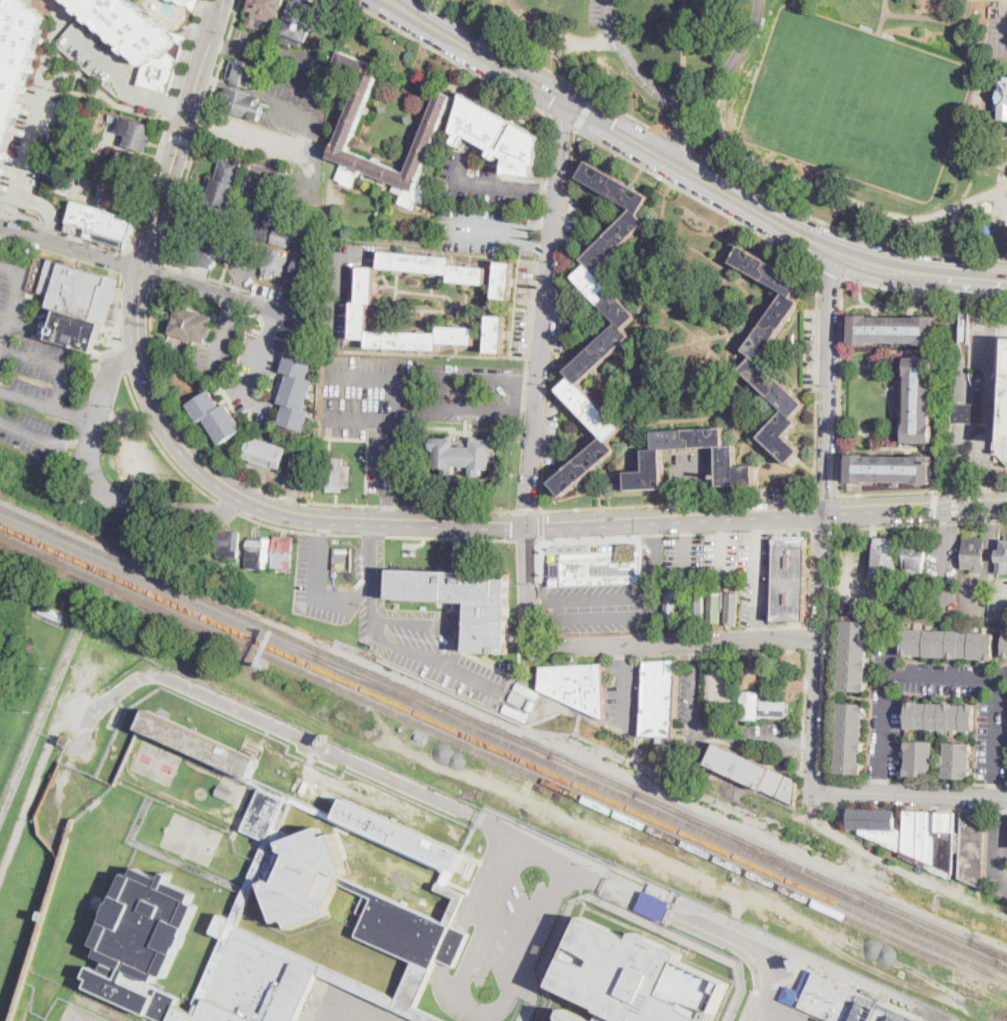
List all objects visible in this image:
road: (390, 0)
road: (391, 0)
building: (190, 3)
building: (264, 12)
building: (300, 22)
road: (56, 27)
building: (138, 38)
road: (684, 44)
parking lot: (99, 54)
road: (65, 59)
road: (454, 60)
building: (17, 62)
road: (538, 64)
building: (245, 73)
road: (77, 81)
road: (125, 82)
road: (57, 83)
road: (82, 92)
traffic signals: (555, 95)
road: (683, 99)
building: (1002, 100)
park: (856, 103)
building: (243, 104)
road: (131, 109)
road: (586, 111)
road: (661, 111)
building: (351, 121)
road: (566, 122)
road: (166, 124)
road: (610, 126)
traffic signals: (612, 127)
road: (657, 128)
road: (249, 129)
road: (199, 131)
road: (680, 133)
building: (136, 134)
road: (181, 134)
road: (704, 134)
building: (499, 136)
road: (179, 138)
road: (680, 141)
parking lot: (30, 144)
building: (89, 147)
road: (994, 148)
road: (574, 156)
building: (129, 164)
road: (21, 176)
building: (225, 184)
road: (476, 184)
road: (546, 191)
building: (116, 195)
road: (697, 197)
building: (447, 209)
road: (9, 215)
building: (299, 215)
building: (102, 224)
road: (544, 225)
road: (453, 227)
road: (842, 228)
building: (257, 232)
building: (284, 237)
road: (541, 244)
building: (211, 247)
road: (125, 261)
building: (427, 263)
building: (276, 264)
building: (304, 268)
road: (831, 268)
road: (917, 269)
road: (156, 272)
road: (161, 275)
building: (497, 277)
road: (240, 286)
road: (924, 291)
road: (17, 301)
building: (76, 303)
road: (116, 310)
building: (354, 313)
road: (544, 315)
building: (190, 322)
building: (966, 327)
building: (893, 329)
building: (617, 330)
building: (491, 332)
road: (223, 333)
building: (756, 350)
road: (121, 358)
road: (55, 364)
road: (255, 364)
road: (421, 376)
road: (817, 379)
road: (528, 380)
road: (826, 381)
road: (840, 383)
road: (403, 388)
building: (686, 388)
road: (990, 391)
building: (296, 392)
building: (920, 400)
parking lot: (407, 403)
road: (448, 403)
road: (48, 407)
road: (525, 407)
building: (970, 410)
building: (216, 416)
building: (1002, 416)
road: (388, 420)
parking lot: (548, 431)
road: (31, 433)
road: (158, 444)
building: (265, 453)
building: (463, 454)
building: (653, 455)
building: (891, 470)
building: (336, 474)
road: (100, 487)
road: (263, 488)
road: (922, 489)
road: (826, 494)
road: (250, 502)
road: (653, 503)
road: (933, 506)
road: (388, 507)
road: (227, 508)
road: (526, 511)
road: (766, 516)
road: (541, 524)
road: (919, 524)
road: (756, 526)
road: (724, 527)
traffic signals: (512, 528)
traffic signals: (550, 528)
road: (822, 528)
road: (686, 529)
road: (324, 532)
road: (674, 533)
road: (371, 534)
road: (375, 534)
road: (525, 540)
road: (992, 540)
building: (230, 544)
building: (259, 552)
building: (284, 552)
parking lot: (684, 553)
parking lot: (721, 553)
road: (685, 554)
building: (974, 554)
road: (723, 555)
building: (915, 555)
building: (886, 556)
building: (1002, 556)
road: (656, 558)
road: (943, 558)
building: (603, 566)
road: (371, 567)
parking lot: (936, 574)
parking lot: (755, 576)
road: (811, 576)
road: (756, 578)
parking lot: (852, 578)
road: (528, 579)
building: (791, 579)
railway: (158, 586)
road: (591, 596)
parking lot: (607, 600)
building: (464, 601)
building: (700, 602)
road: (652, 605)
building: (715, 606)
building: (670, 607)
building: (732, 609)
building: (51, 613)
building: (886, 613)
road: (590, 617)
parking lot: (388, 619)
road: (411, 624)
road: (372, 625)
railway: (275, 628)
road: (651, 630)
road: (757, 631)
road: (809, 635)
building: (948, 644)
road: (671, 645)
road: (789, 645)
building: (1005, 646)
road: (726, 650)
road: (830, 651)
road: (696, 652)
road: (818, 652)
road: (624, 654)
building: (854, 655)
road: (789, 671)
building: (753, 675)
road: (947, 675)
road: (727, 685)
building: (576, 686)
parking lot: (624, 691)
road: (803, 691)
road: (696, 692)
road: (625, 693)
building: (533, 694)
building: (659, 698)
parking lot: (690, 703)
railway: (433, 705)
building: (760, 707)
road: (805, 710)
building: (941, 716)
road: (883, 734)
road: (746, 737)
parking lot: (772, 737)
building: (850, 738)
road: (995, 738)
building: (324, 739)
road: (807, 742)
building: (669, 745)
railway: (503, 752)
building: (919, 759)
railway: (502, 760)
building: (958, 760)
road: (365, 766)
railway: (592, 771)
building: (754, 773)
road: (813, 776)
railway: (588, 780)
road: (915, 780)
building: (225, 792)
road: (910, 796)
building: (912, 836)
road: (1001, 837)
railway: (748, 847)
building: (974, 848)
parking lot: (997, 853)
building: (301, 863)
railway: (802, 866)
building: (655, 900)
building: (45, 916)
railway: (928, 933)
road: (745, 948)
railway: (988, 948)
railway: (988, 949)
building: (799, 963)
railway: (1001, 966)
railway: (1001, 966)
building: (637, 977)
building: (415, 993)
building: (841, 1000)
road: (776, 1012)
building: (575, 1016)
parking lot: (751, 1017)

